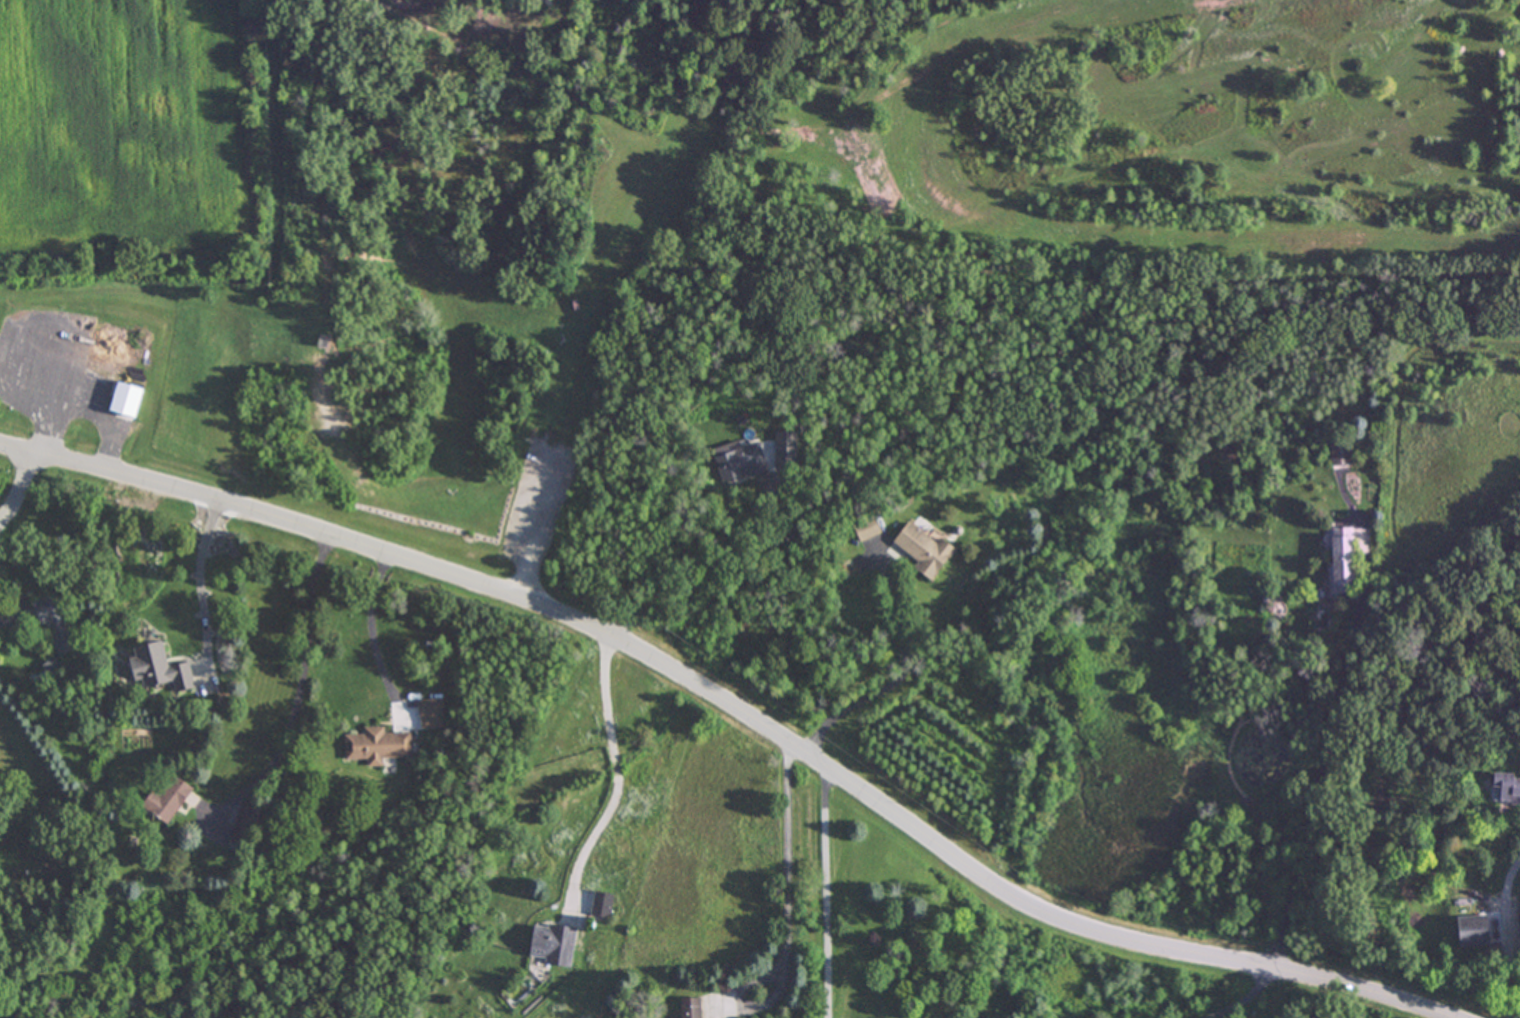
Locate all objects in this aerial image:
park: (704, 217)
building: (315, 342)
building: (125, 400)
road: (563, 438)
building: (1340, 454)
building: (739, 464)
road: (23, 504)
building: (864, 530)
building: (922, 551)
building: (1340, 556)
road: (707, 566)
road: (201, 595)
building: (53, 624)
road: (371, 636)
building: (157, 669)
road: (898, 673)
road: (302, 688)
road: (725, 711)
building: (375, 746)
road: (1324, 765)
road: (615, 776)
building: (1504, 788)
building: (162, 800)
building: (243, 825)
road: (787, 876)
road: (824, 896)
building: (599, 905)
building: (1470, 930)
road: (1507, 933)
building: (548, 944)
road: (1233, 1000)
building: (686, 1008)

